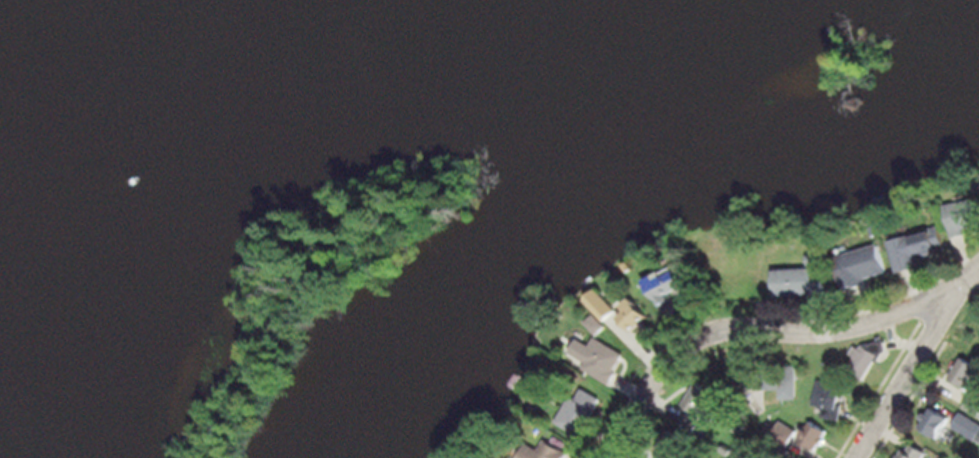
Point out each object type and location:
river: (321, 153)
building: (963, 214)
building: (915, 247)
building: (861, 264)
building: (800, 279)
building: (667, 283)
building: (603, 304)
building: (636, 314)
building: (598, 324)
road: (767, 329)
building: (600, 357)
building: (866, 358)
road: (914, 369)
building: (966, 376)
building: (772, 381)
road: (883, 381)
road: (917, 396)
building: (829, 398)
building: (701, 402)
building: (972, 405)
building: (579, 409)
building: (934, 421)
building: (967, 426)
building: (784, 433)
building: (812, 434)
building: (675, 439)
building: (542, 450)
building: (912, 452)

